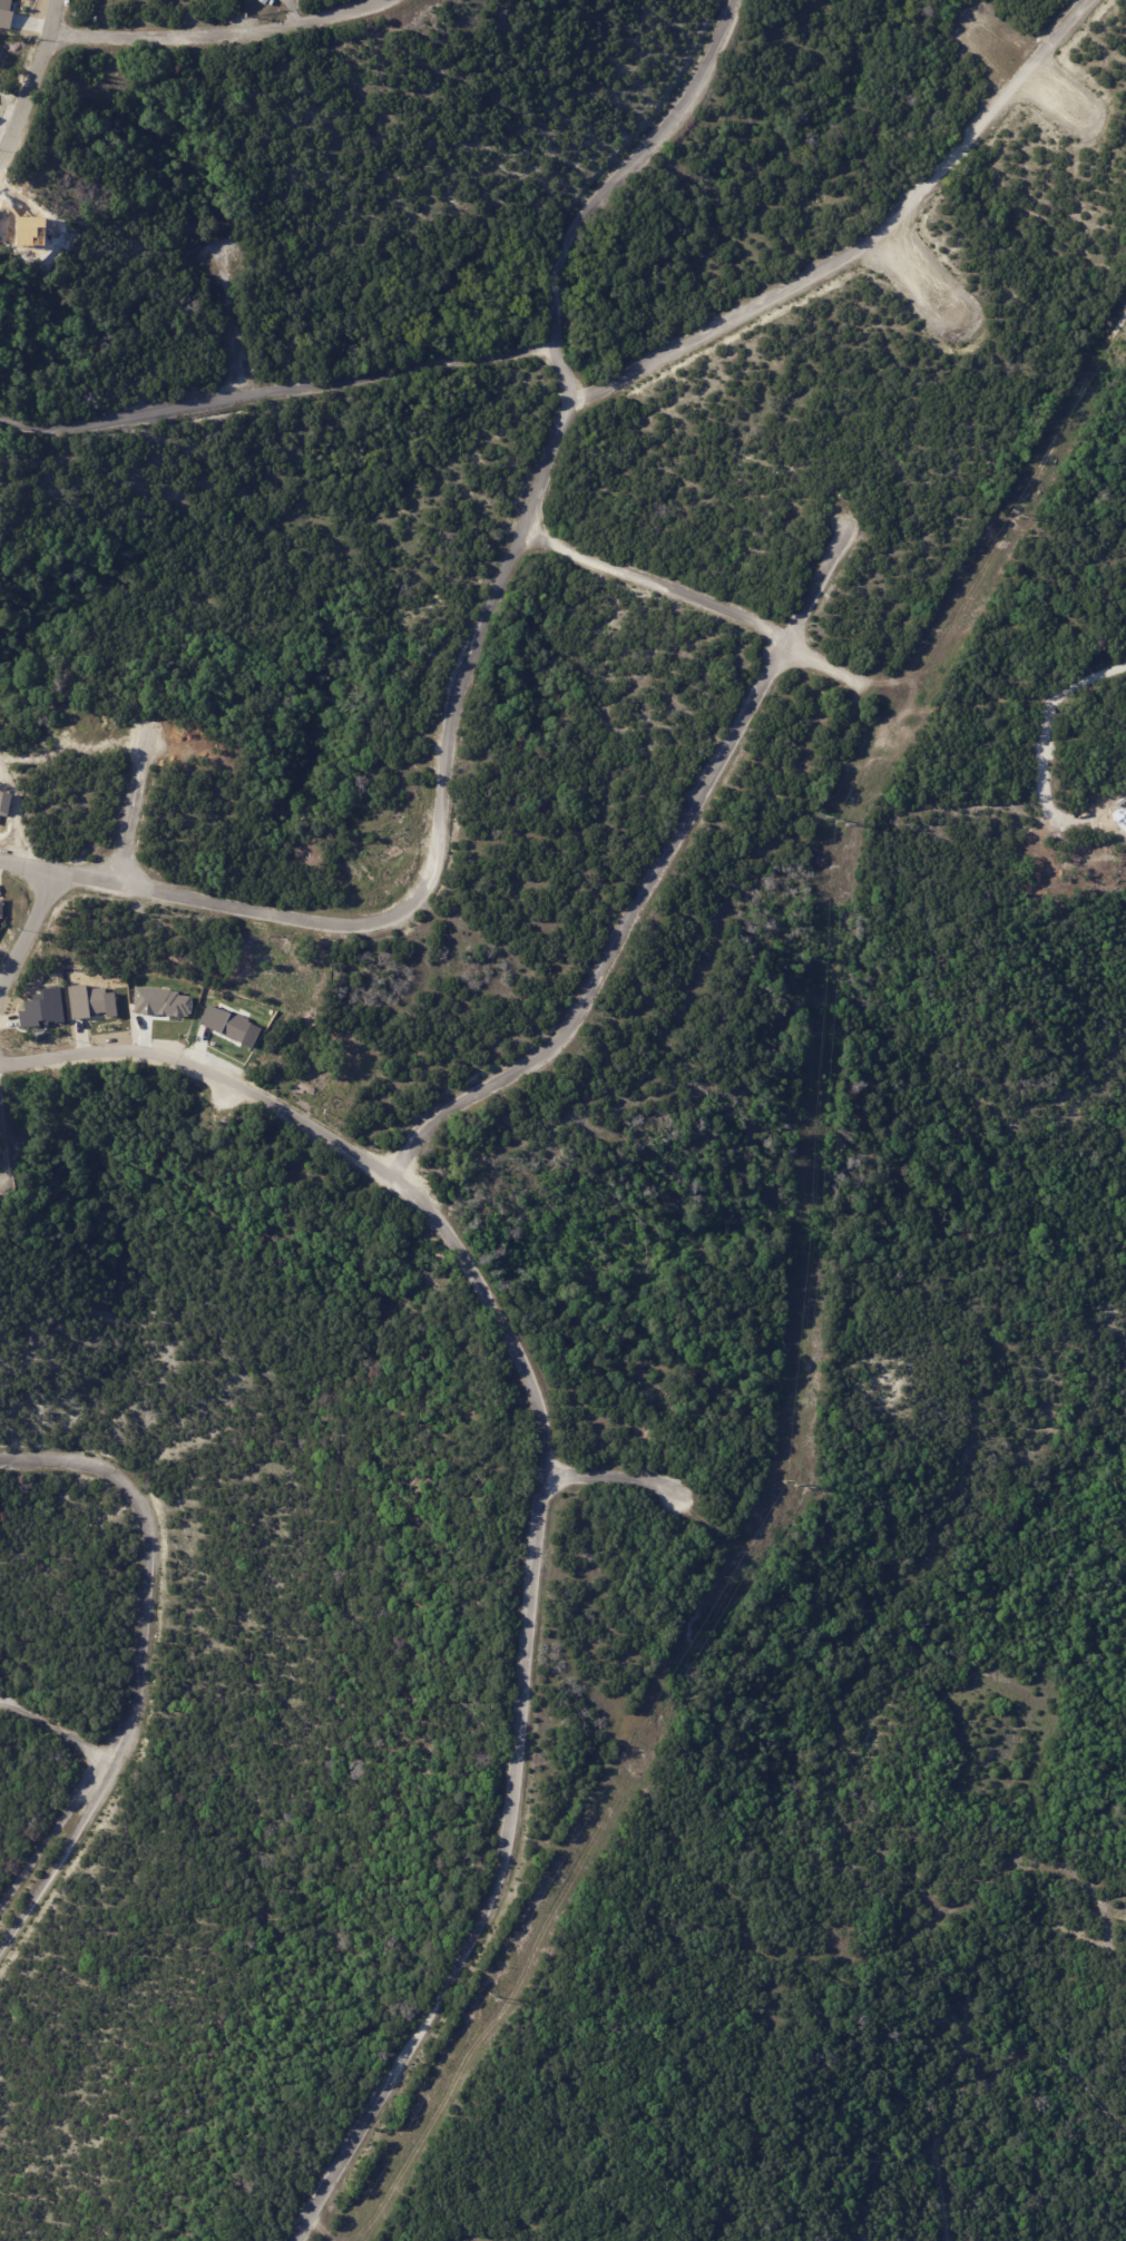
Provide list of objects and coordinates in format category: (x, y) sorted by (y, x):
building: (260, 1)
building: (270, 2)
building: (2, 11)
road: (223, 32)
road: (1026, 69)
road: (33, 79)
road: (625, 168)
building: (11, 215)
road: (942, 268)
road: (234, 327)
road: (562, 373)
road: (276, 391)
power tower: (1015, 512)
road: (518, 536)
road: (687, 595)
road: (1087, 681)
road: (1045, 795)
road: (130, 811)
power tower: (835, 819)
road: (649, 862)
building: (2, 906)
road: (27, 933)
building: (88, 1001)
building: (164, 1001)
building: (40, 1007)
building: (229, 1024)
road: (4, 1143)
road: (610, 1477)
power tower: (796, 1484)
road: (542, 1501)
road: (150, 1557)
road: (56, 1730)
road: (52, 1831)
road: (59, 1859)
power tower: (491, 1997)

